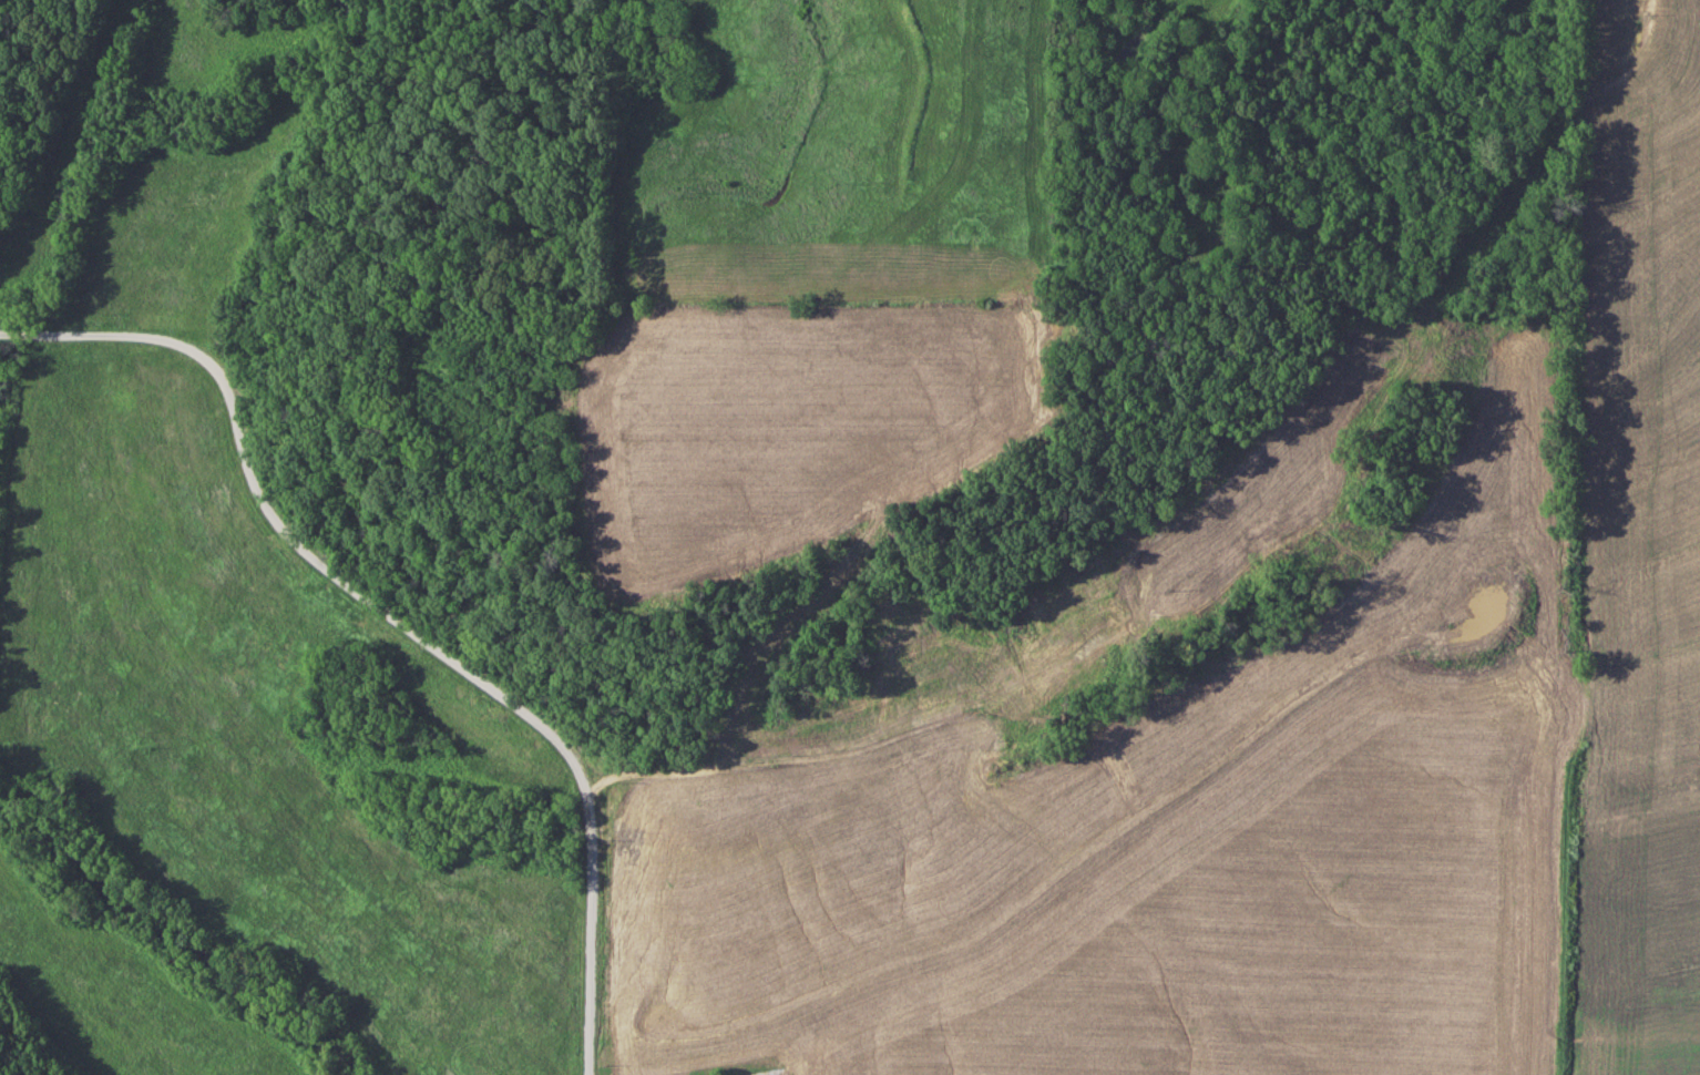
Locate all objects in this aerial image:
road: (392, 615)

